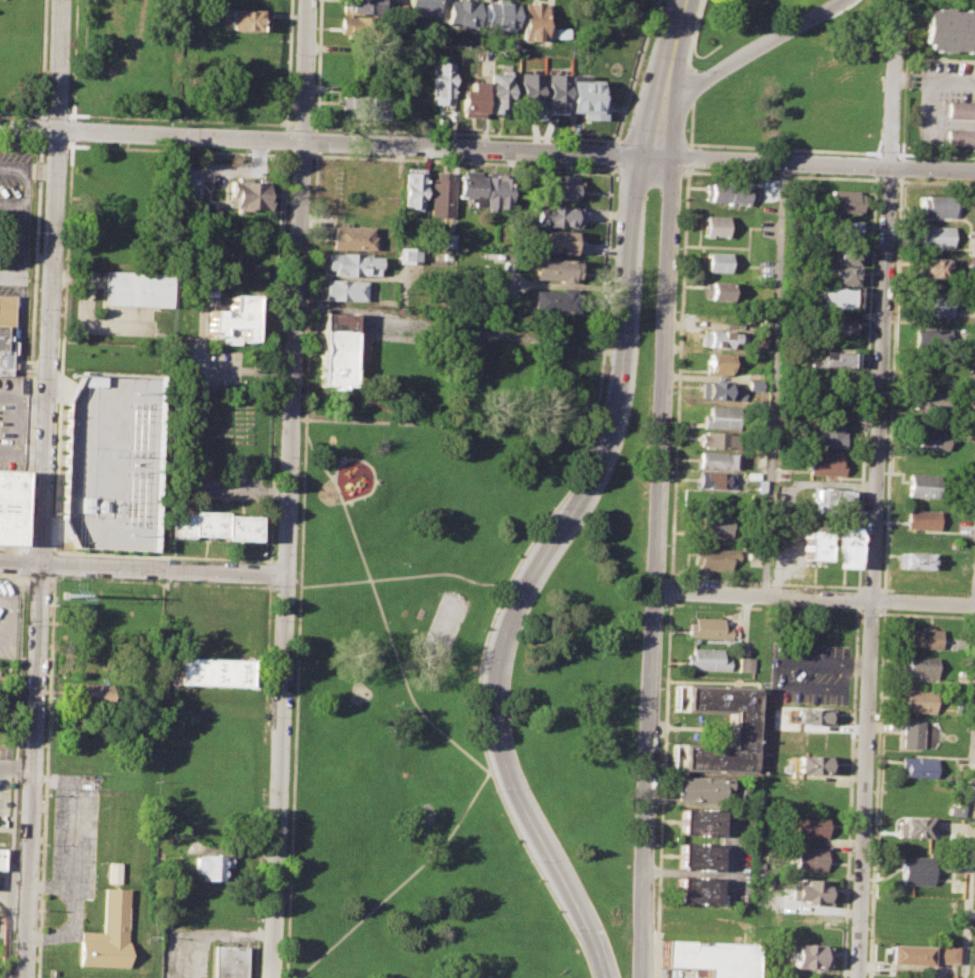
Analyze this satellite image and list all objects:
park: (933, 2)
building: (365, 6)
building: (426, 6)
building: (463, 13)
building: (501, 15)
building: (246, 20)
building: (534, 22)
street lamp: (774, 23)
building: (362, 29)
building: (948, 30)
building: (561, 33)
road: (671, 45)
street lamp: (883, 48)
road: (752, 49)
street lamp: (646, 56)
street lamp: (684, 59)
road: (60, 65)
road: (288, 65)
road: (691, 70)
street lamp: (695, 70)
road: (635, 72)
park: (731, 74)
road: (933, 81)
road: (903, 85)
building: (442, 87)
road: (891, 90)
building: (498, 93)
building: (528, 94)
building: (556, 94)
building: (472, 99)
building: (585, 99)
parking lot: (947, 101)
building: (361, 109)
building: (960, 110)
road: (22, 112)
road: (657, 124)
road: (39, 128)
street lamp: (624, 128)
street lamp: (683, 130)
street lamp: (401, 135)
building: (958, 137)
street lamp: (476, 138)
road: (285, 140)
street lamp: (551, 141)
road: (327, 142)
road: (784, 148)
road: (888, 153)
road: (612, 154)
road: (936, 155)
road: (687, 156)
street lamp: (290, 159)
road: (814, 163)
road: (900, 167)
road: (12, 168)
street lamp: (694, 169)
road: (40, 170)
street lamp: (773, 172)
street lamp: (844, 173)
street lamp: (680, 177)
street lamp: (918, 178)
building: (560, 187)
building: (470, 188)
building: (495, 189)
building: (413, 190)
building: (727, 191)
building: (249, 195)
building: (442, 196)
street lamp: (615, 196)
building: (843, 200)
road: (12, 203)
building: (934, 207)
building: (556, 216)
street lamp: (876, 217)
road: (24, 223)
building: (715, 227)
building: (845, 229)
building: (934, 236)
building: (351, 238)
building: (557, 243)
street lamp: (676, 248)
street lamp: (286, 254)
building: (410, 255)
building: (843, 255)
building: (718, 262)
building: (352, 266)
building: (931, 267)
building: (553, 270)
building: (842, 275)
road: (351, 276)
road: (9, 277)
street lamp: (612, 277)
building: (717, 290)
building: (138, 291)
building: (344, 291)
building: (832, 299)
building: (551, 304)
building: (933, 306)
street lamp: (674, 311)
building: (234, 320)
building: (837, 327)
road: (460, 330)
building: (6, 333)
road: (20, 336)
building: (930, 337)
building: (719, 338)
road: (49, 346)
building: (338, 351)
road: (277, 356)
road: (31, 357)
street lamp: (282, 358)
street lamp: (609, 358)
building: (833, 360)
building: (718, 364)
power tower: (73, 374)
road: (679, 376)
road: (772, 379)
road: (891, 384)
road: (599, 385)
building: (724, 391)
power tower: (136, 392)
road: (24, 398)
building: (931, 400)
building: (722, 419)
road: (392, 422)
road: (17, 425)
building: (830, 433)
road: (305, 435)
street lamp: (591, 437)
building: (930, 439)
building: (719, 440)
road: (22, 452)
street lamp: (279, 456)
power substation: (112, 461)
building: (718, 461)
building: (825, 463)
street lamp: (668, 472)
building: (715, 480)
building: (924, 486)
road: (290, 489)
building: (831, 502)
street lamp: (552, 506)
building: (10, 508)
road: (54, 517)
building: (922, 519)
building: (716, 527)
building: (212, 528)
power tower: (131, 534)
street lamp: (665, 545)
building: (813, 546)
road: (24, 549)
road: (40, 549)
road: (52, 549)
building: (843, 551)
street lamp: (275, 554)
building: (711, 559)
building: (916, 560)
road: (21, 562)
street lamp: (402, 562)
road: (23, 563)
road: (653, 566)
road: (164, 569)
road: (536, 569)
road: (873, 572)
road: (270, 573)
road: (404, 576)
street lamp: (507, 578)
street lamp: (266, 584)
road: (670, 591)
street lamp: (437, 593)
power tower: (67, 595)
road: (814, 599)
road: (883, 601)
street lamp: (663, 609)
road: (7, 615)
street lamp: (274, 620)
park: (444, 624)
building: (709, 630)
building: (922, 638)
road: (268, 641)
street lamp: (451, 653)
street lamp: (478, 658)
building: (709, 661)
park: (593, 663)
road: (825, 664)
building: (747, 666)
park: (421, 667)
building: (918, 667)
building: (211, 673)
parking lot: (808, 674)
street lamp: (660, 689)
park: (360, 693)
building: (90, 696)
building: (918, 701)
street lamp: (394, 706)
road: (293, 714)
street lamp: (269, 717)
building: (816, 718)
road: (433, 722)
street lamp: (476, 723)
building: (743, 730)
building: (910, 734)
street lamp: (657, 766)
building: (816, 766)
parking lot: (4, 767)
building: (916, 767)
road: (16, 769)
road: (32, 770)
road: (15, 777)
road: (662, 788)
building: (703, 790)
street lamp: (494, 791)
road: (875, 793)
road: (967, 804)
building: (953, 809)
park: (425, 813)
building: (699, 825)
building: (812, 828)
building: (912, 828)
parking lot: (74, 832)
road: (70, 836)
street lamp: (654, 844)
building: (699, 858)
building: (2, 859)
street lamp: (529, 860)
building: (811, 862)
building: (211, 866)
building: (913, 869)
road: (403, 882)
road: (259, 883)
building: (697, 893)
building: (809, 893)
street lamp: (654, 911)
road: (72, 913)
street lamp: (261, 915)
building: (108, 923)
street lamp: (569, 929)
street lamp: (13, 941)
building: (918, 954)
building: (806, 956)
building: (711, 960)
building: (228, 961)
building: (973, 970)
building: (697, 975)
road: (1, 977)

